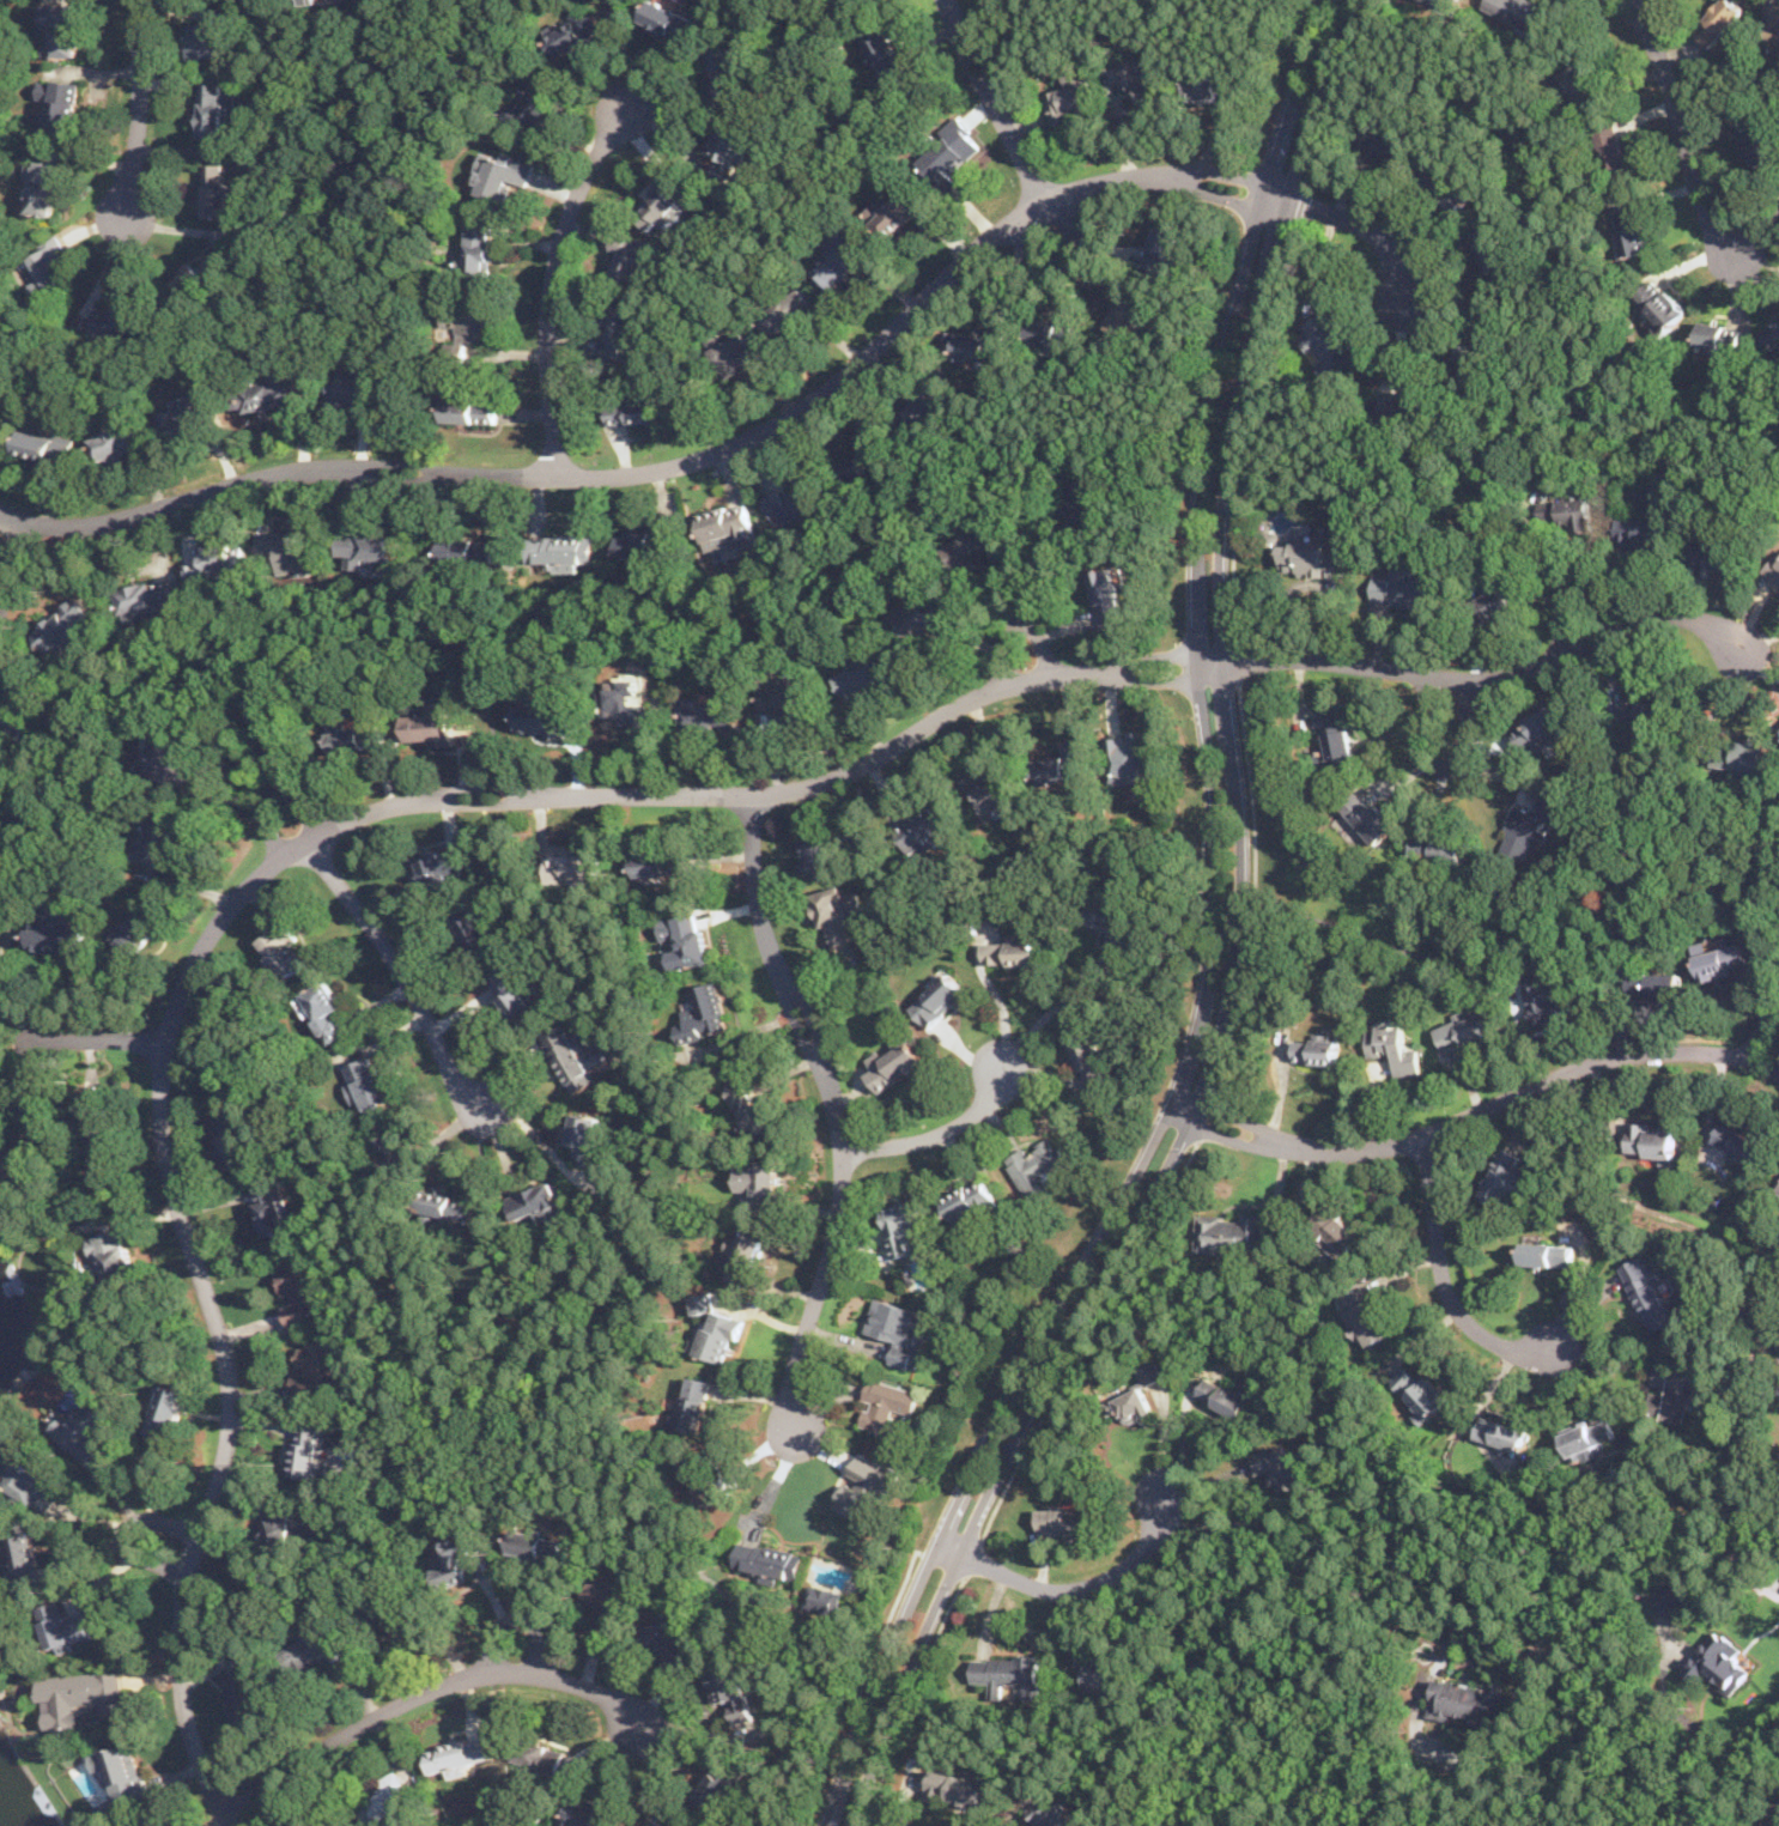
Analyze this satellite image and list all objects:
building: (333, 0)
building: (994, 1)
building: (1449, 2)
road: (1148, 5)
building: (1517, 11)
building: (667, 18)
building: (1719, 22)
building: (1771, 26)
building: (61, 28)
building: (573, 30)
road: (444, 34)
building: (208, 40)
building: (884, 49)
road: (363, 59)
road: (1543, 59)
building: (724, 69)
building: (1577, 79)
building: (1140, 87)
building: (1210, 87)
road: (1336, 93)
road: (405, 96)
building: (61, 101)
building: (534, 101)
road: (996, 102)
road: (906, 103)
building: (1070, 103)
building: (214, 107)
road: (139, 110)
road: (1678, 127)
road: (849, 129)
building: (1380, 139)
building: (1755, 142)
building: (737, 147)
building: (1610, 147)
building: (948, 151)
road: (1532, 172)
building: (499, 174)
building: (41, 186)
building: (215, 190)
building: (1451, 192)
building: (664, 204)
road: (1300, 204)
building: (894, 211)
road: (769, 229)
building: (1631, 231)
building: (1490, 247)
building: (481, 248)
building: (1162, 248)
building: (836, 257)
building: (629, 259)
building: (51, 262)
building: (202, 274)
road: (553, 280)
building: (1660, 304)
building: (787, 310)
building: (1128, 315)
building: (121, 321)
building: (469, 321)
road: (247, 323)
building: (1054, 332)
building: (621, 333)
building: (1773, 334)
building: (1717, 336)
road: (20, 339)
building: (1328, 342)
building: (980, 345)
building: (1468, 348)
building: (736, 352)
building: (350, 386)
building: (265, 393)
building: (929, 402)
building: (1403, 405)
building: (469, 410)
building: (636, 411)
building: (187, 420)
road: (767, 427)
road: (1246, 430)
road: (1492, 433)
building: (121, 442)
building: (44, 445)
building: (869, 448)
building: (1083, 496)
building: (794, 503)
building: (1567, 512)
building: (727, 526)
building: (1641, 532)
building: (1341, 533)
building: (639, 542)
building: (977, 547)
building: (369, 548)
building: (559, 548)
building: (292, 550)
building: (469, 550)
building: (1716, 554)
building: (1309, 558)
building: (215, 560)
road: (13, 565)
road: (1049, 570)
building: (1773, 571)
road: (1313, 583)
road: (1571, 588)
building: (1403, 589)
building: (1107, 592)
building: (148, 597)
building: (1496, 602)
building: (921, 617)
building: (67, 626)
road: (1015, 626)
road: (1239, 662)
building: (863, 675)
road: (1488, 678)
building: (788, 699)
building: (624, 703)
building: (12, 704)
building: (1643, 711)
building: (267, 715)
building: (710, 715)
building: (542, 718)
building: (432, 726)
building: (1538, 728)
building: (1337, 736)
building: (358, 738)
building: (166, 752)
building: (1739, 756)
building: (1130, 758)
building: (1063, 764)
road: (1440, 771)
building: (991, 794)
building: (1368, 818)
building: (927, 829)
building: (1522, 830)
building: (158, 839)
road: (498, 844)
building: (1429, 845)
building: (820, 855)
building: (662, 863)
building: (441, 865)
building: (575, 867)
road: (995, 874)
road: (257, 880)
road: (1256, 887)
building: (0, 911)
building: (837, 912)
building: (1112, 920)
road: (1462, 923)
building: (473, 927)
building: (139, 928)
building: (59, 938)
building: (687, 938)
road: (1224, 947)
building: (1014, 948)
building: (281, 952)
road: (388, 952)
building: (1722, 959)
building: (1657, 982)
building: (515, 995)
building: (940, 997)
building: (1547, 1002)
road: (1052, 1007)
building: (323, 1009)
building: (704, 1014)
building: (1465, 1029)
road: (1760, 1031)
road: (81, 1039)
building: (1394, 1047)
building: (1318, 1048)
building: (575, 1056)
building: (893, 1061)
building: (1088, 1061)
building: (368, 1081)
road: (1481, 1109)
building: (749, 1110)
road: (834, 1110)
road: (1207, 1116)
building: (102, 1132)
road: (937, 1132)
building: (232, 1138)
building: (587, 1140)
building: (1653, 1140)
building: (1739, 1145)
building: (393, 1151)
building: (22, 1163)
building: (1037, 1167)
building: (1504, 1176)
building: (758, 1179)
building: (1778, 1187)
building: (967, 1197)
building: (535, 1203)
building: (272, 1206)
building: (447, 1206)
road: (346, 1217)
building: (900, 1226)
building: (1229, 1232)
building: (1336, 1232)
road: (1742, 1250)
building: (1547, 1252)
building: (114, 1254)
building: (746, 1257)
road: (1441, 1279)
road: (582, 1281)
building: (300, 1290)
building: (1647, 1291)
road: (469, 1292)
building: (702, 1302)
building: (1362, 1312)
building: (899, 1328)
building: (720, 1334)
road: (1087, 1340)
building: (318, 1366)
building: (1419, 1391)
building: (1671, 1393)
building: (1136, 1394)
building: (1227, 1395)
building: (694, 1403)
building: (886, 1406)
building: (170, 1411)
building: (89, 1427)
building: (1502, 1432)
building: (1589, 1434)
road: (1161, 1439)
building: (309, 1449)
building: (1277, 1466)
building: (29, 1476)
building: (703, 1478)
road: (605, 1485)
road: (773, 1485)
building: (868, 1487)
building: (1069, 1519)
road: (1324, 1521)
building: (291, 1525)
road: (169, 1542)
building: (540, 1545)
building: (26, 1555)
building: (455, 1558)
road: (972, 1558)
building: (770, 1559)
road: (943, 1563)
road: (1077, 1587)
building: (824, 1597)
building: (607, 1598)
building: (1678, 1601)
building: (384, 1607)
road: (517, 1615)
building: (66, 1627)
building: (668, 1636)
building: (317, 1649)
building: (1718, 1662)
building: (1100, 1669)
building: (1008, 1674)
road: (429, 1688)
building: (245, 1691)
building: (733, 1692)
building: (79, 1699)
road: (909, 1699)
building: (1467, 1701)
building: (460, 1752)
road: (1663, 1752)
building: (541, 1754)
building: (122, 1772)
building: (720, 1782)
building: (952, 1785)
road: (1477, 1792)
building: (390, 1798)
building: (593, 1812)
building: (1048, 1812)
road: (1762, 1815)
building: (154, 1821)
building: (676, 1824)

